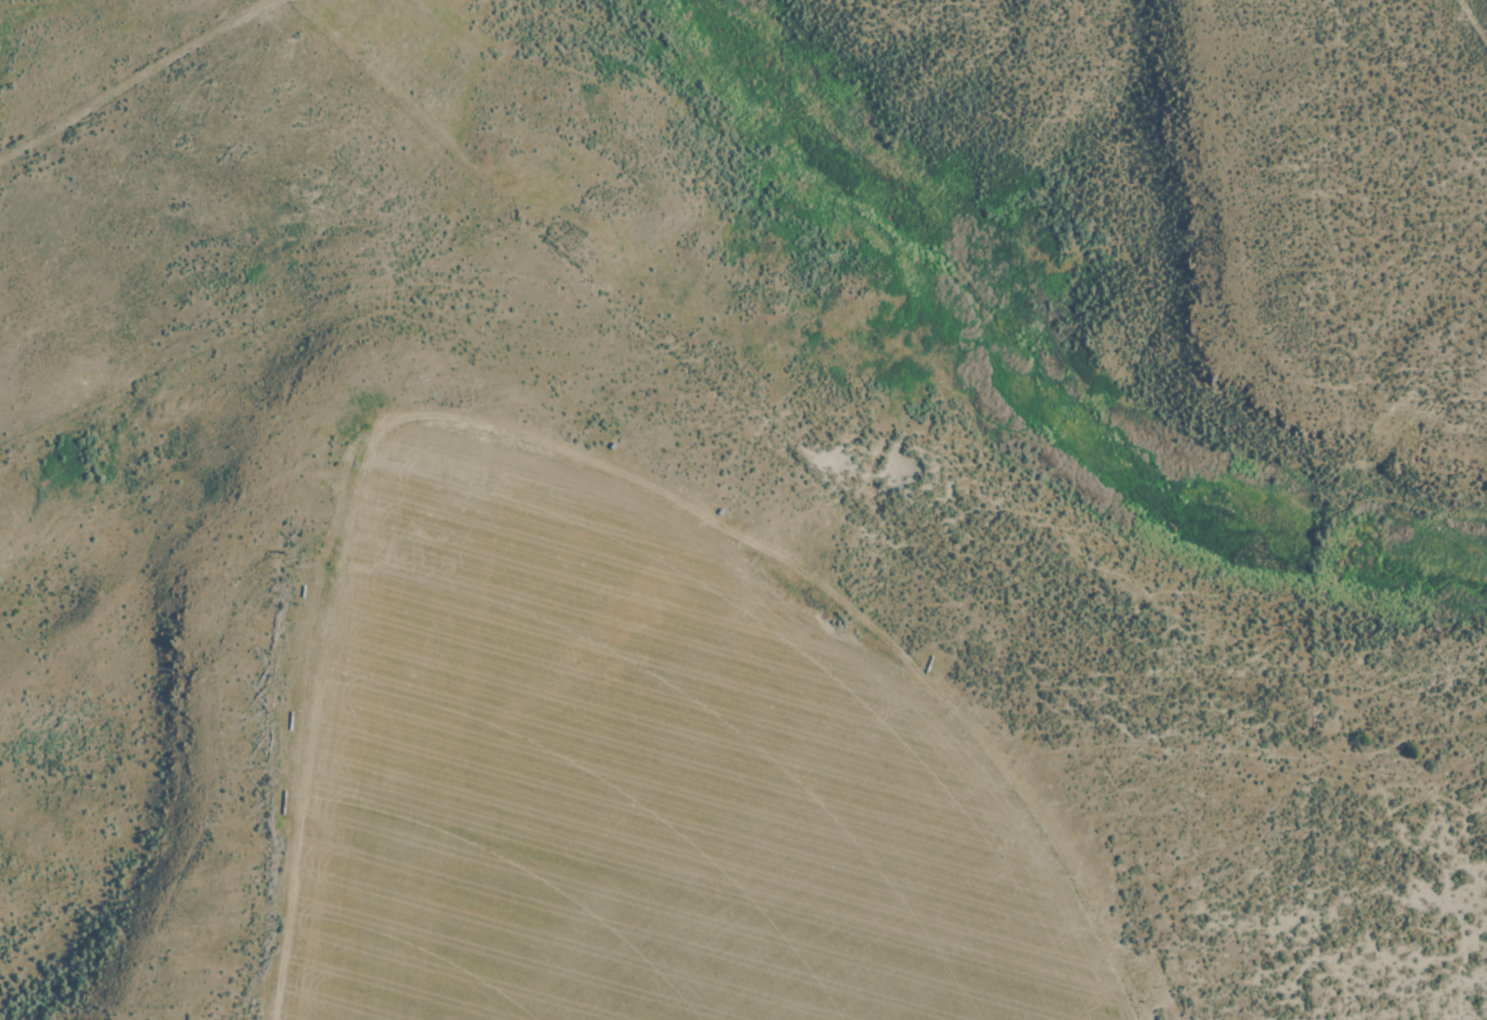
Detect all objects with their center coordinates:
crop: (647, 791)

